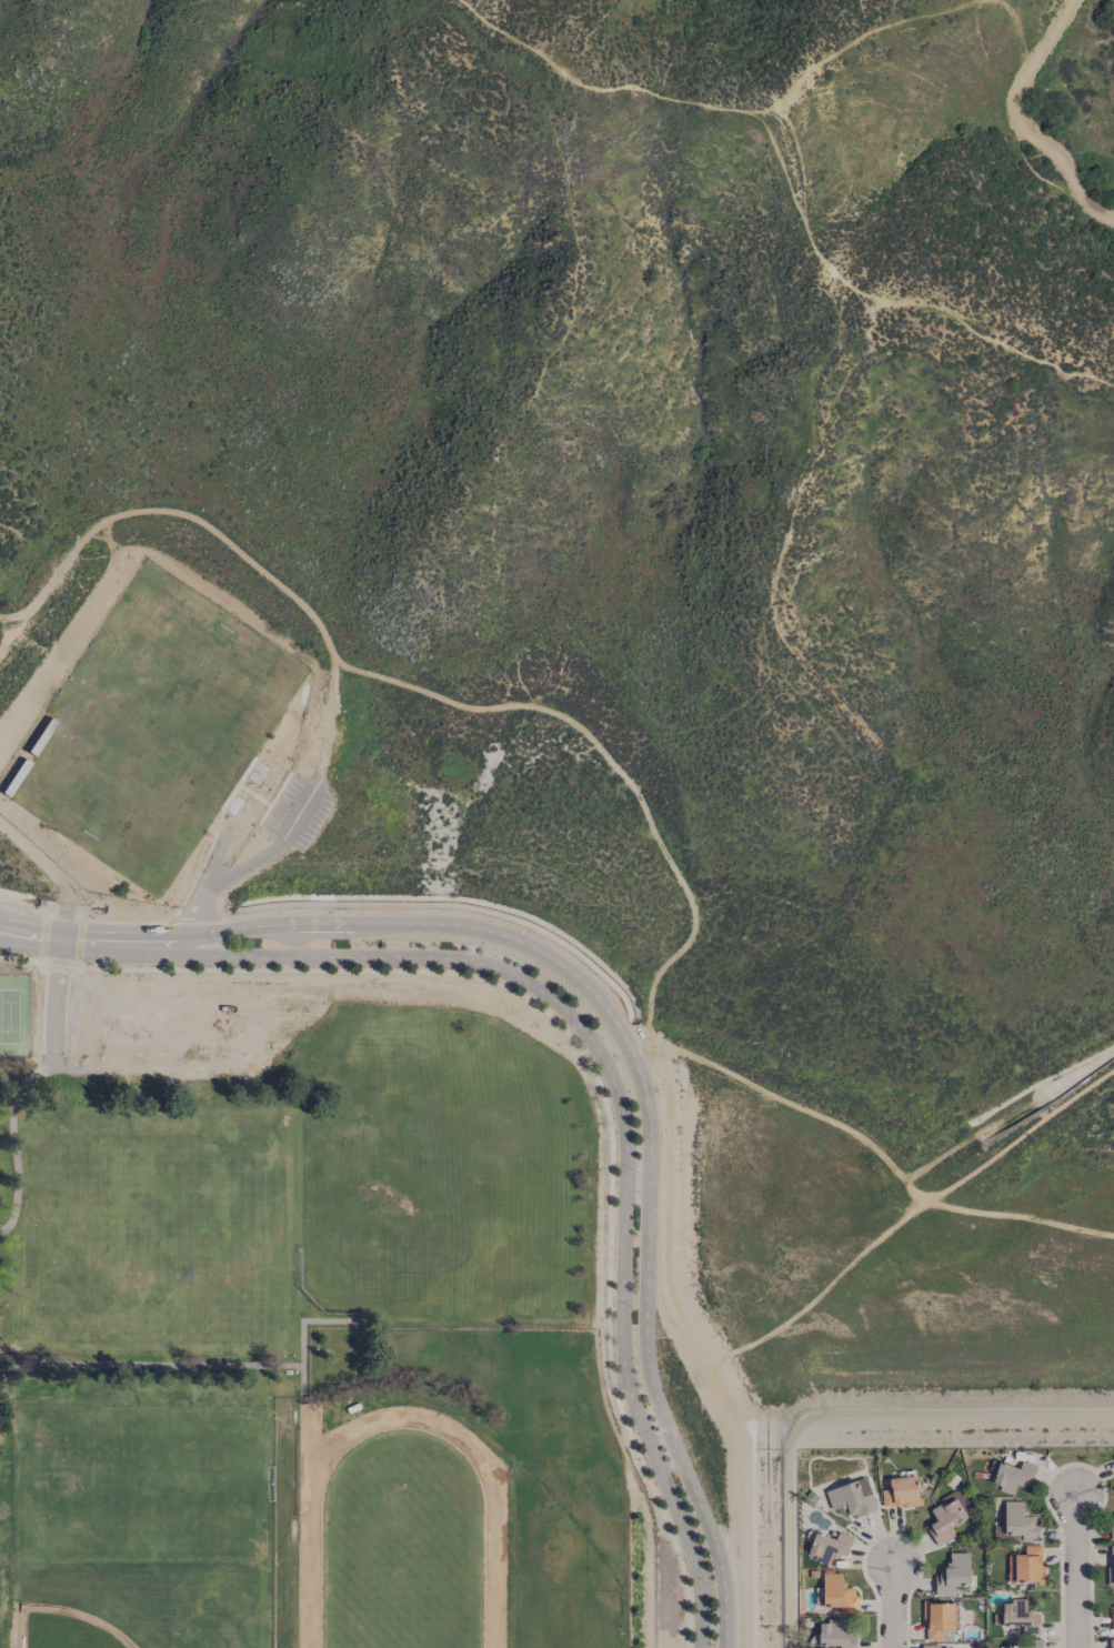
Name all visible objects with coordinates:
road: (1022, 122)
road: (791, 189)
park: (152, 728)
road: (641, 804)
road: (252, 863)
road: (303, 924)
road: (289, 957)
road: (21, 961)
road: (72, 966)
road: (57, 977)
park: (14, 1016)
road: (599, 1086)
road: (1037, 1123)
road: (12, 1136)
road: (645, 1318)
road: (622, 1328)
road: (843, 1417)
building: (1113, 1458)
building: (1012, 1475)
park: (147, 1485)
building: (901, 1491)
building: (852, 1497)
building: (947, 1515)
building: (1020, 1520)
building: (1112, 1526)
track: (403, 1540)
building: (829, 1546)
building: (1026, 1564)
building: (1111, 1566)
building: (952, 1572)
road: (1076, 1572)
building: (839, 1592)
road: (894, 1609)
park: (147, 1614)
building: (1020, 1617)
building: (937, 1618)
building: (1112, 1621)
building: (835, 1634)
building: (1036, 1641)
building: (1111, 1642)
building: (931, 1646)

